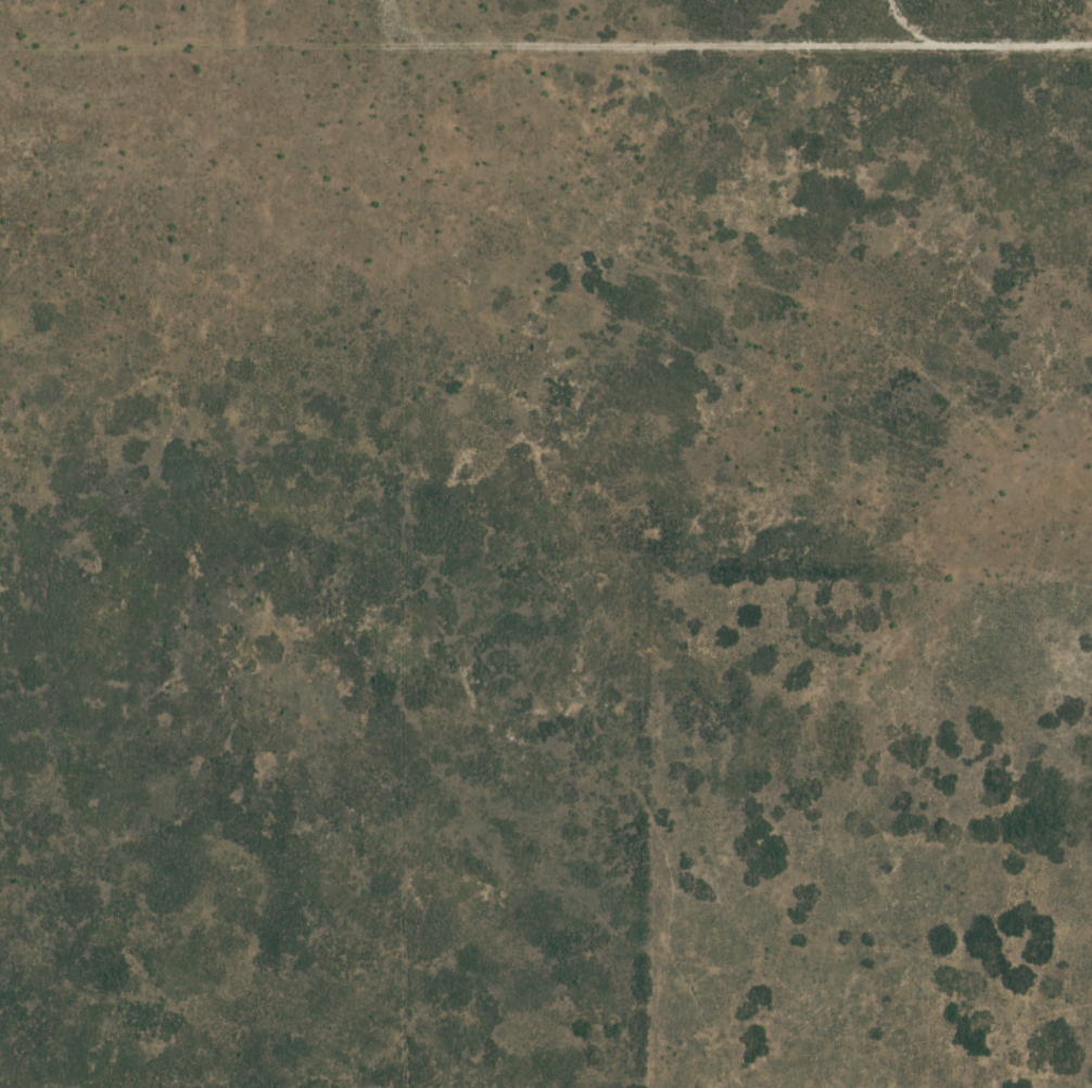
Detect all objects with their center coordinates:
road: (879, 2)
road: (657, 7)

